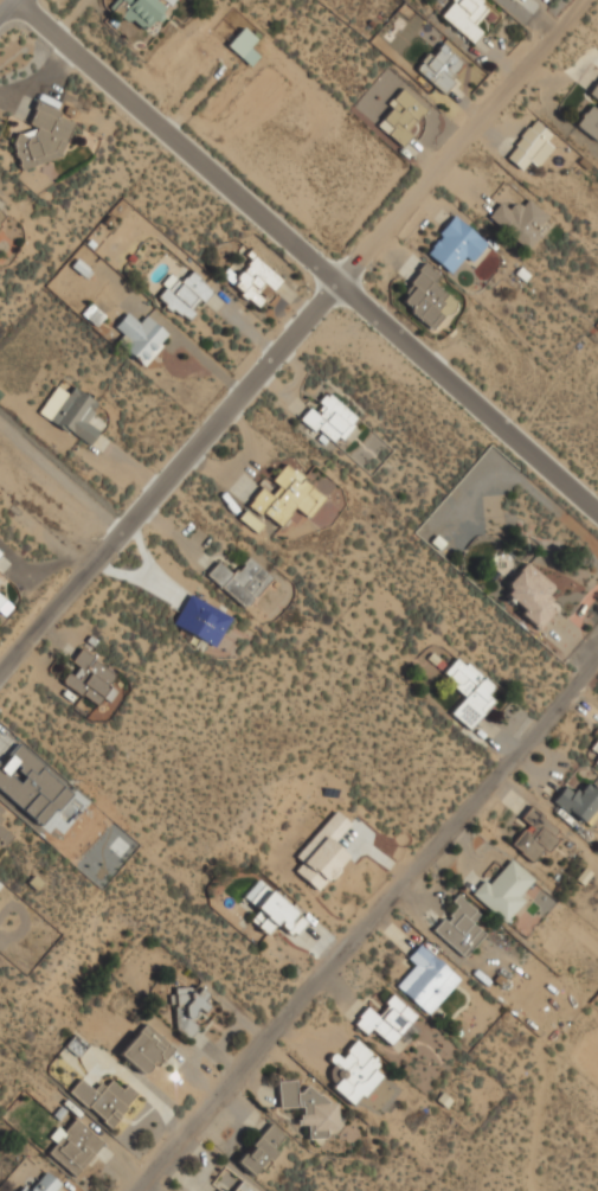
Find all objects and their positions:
road: (8, 9)
building: (139, 12)
building: (465, 15)
building: (244, 44)
building: (441, 66)
building: (403, 115)
building: (591, 116)
building: (44, 136)
building: (529, 143)
building: (1, 216)
building: (520, 220)
building: (455, 243)
road: (303, 251)
building: (257, 281)
building: (185, 294)
building: (427, 297)
building: (94, 313)
road: (292, 333)
building: (141, 335)
building: (71, 411)
building: (330, 418)
building: (287, 497)
building: (252, 523)
building: (0, 552)
building: (240, 580)
building: (531, 595)
building: (1, 597)
building: (202, 620)
building: (89, 678)
building: (469, 691)
building: (594, 749)
building: (596, 762)
building: (31, 785)
building: (579, 801)
building: (1, 813)
building: (4, 834)
building: (535, 834)
building: (323, 852)
building: (504, 890)
building: (274, 909)
road: (364, 921)
building: (461, 927)
building: (427, 979)
building: (193, 1007)
building: (386, 1019)
building: (146, 1049)
building: (354, 1071)
building: (104, 1099)
building: (311, 1109)
building: (75, 1146)
building: (262, 1148)
building: (43, 1183)
building: (244, 1186)
building: (220, 1190)

